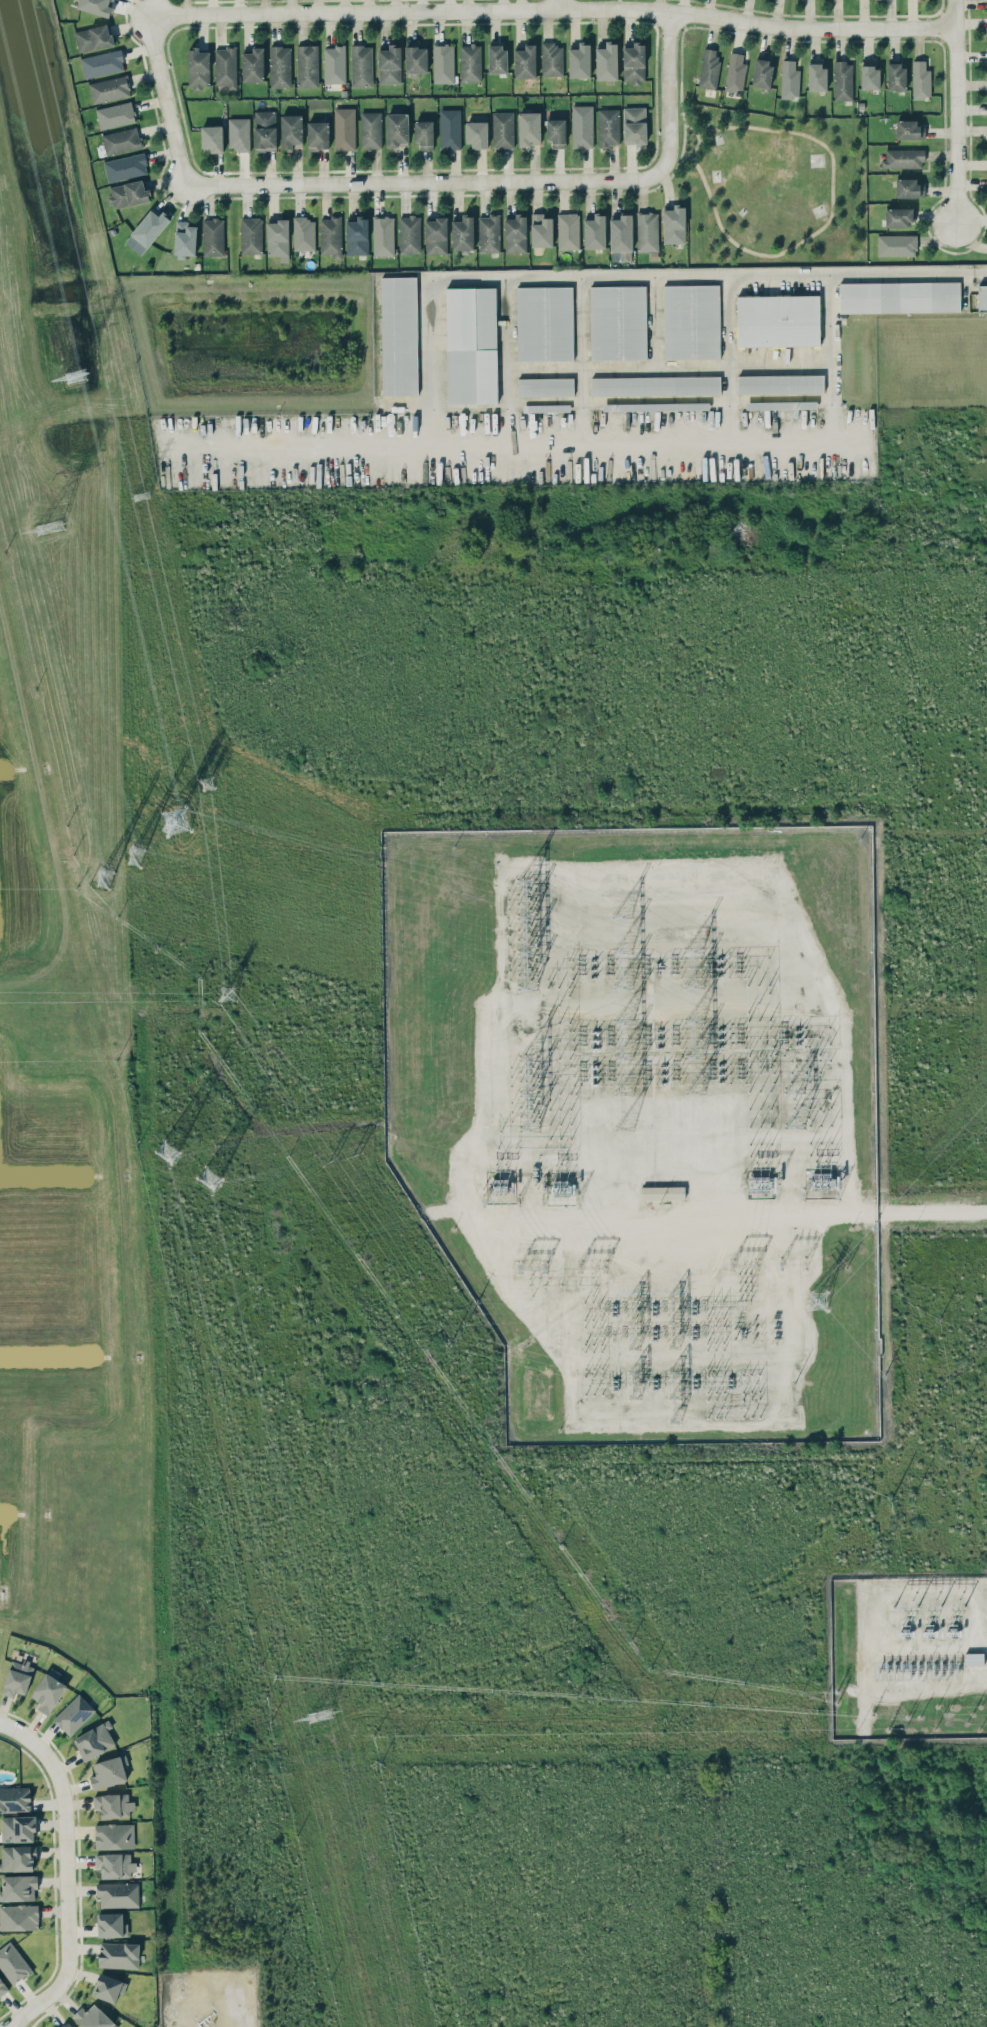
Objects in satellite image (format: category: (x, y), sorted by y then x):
road: (561, 5)
building: (96, 6)
road: (554, 11)
building: (93, 37)
building: (415, 58)
building: (496, 58)
building: (551, 59)
building: (579, 61)
building: (606, 61)
building: (470, 62)
building: (525, 62)
building: (633, 62)
building: (102, 63)
building: (443, 63)
building: (334, 64)
building: (389, 64)
building: (253, 65)
building: (307, 65)
building: (361, 65)
building: (225, 66)
building: (279, 66)
building: (198, 67)
building: (709, 69)
building: (735, 72)
building: (762, 72)
building: (869, 75)
building: (896, 75)
building: (817, 77)
building: (789, 79)
building: (921, 79)
building: (842, 80)
building: (109, 89)
road: (669, 90)
road: (682, 93)
road: (170, 99)
road: (958, 113)
building: (115, 114)
building: (634, 125)
building: (582, 126)
building: (608, 127)
building: (344, 128)
building: (450, 128)
building: (529, 128)
building: (370, 129)
building: (396, 129)
building: (503, 129)
building: (909, 129)
building: (265, 130)
building: (291, 131)
building: (556, 132)
building: (239, 133)
building: (476, 133)
building: (317, 135)
building: (424, 135)
building: (211, 138)
building: (121, 141)
road: (699, 142)
building: (903, 158)
building: (125, 166)
road: (427, 181)
road: (668, 187)
building: (909, 188)
building: (128, 193)
road: (830, 217)
building: (899, 217)
building: (674, 224)
building: (541, 230)
building: (568, 230)
building: (146, 231)
building: (594, 231)
building: (647, 231)
building: (303, 233)
building: (462, 233)
building: (488, 233)
building: (409, 234)
building: (515, 234)
building: (251, 235)
building: (383, 235)
building: (436, 235)
building: (330, 236)
building: (357, 236)
building: (213, 237)
building: (277, 237)
building: (621, 238)
building: (185, 239)
building: (897, 244)
road: (905, 273)
building: (900, 296)
building: (982, 297)
building: (779, 319)
building: (691, 321)
building: (618, 322)
building: (544, 323)
building: (399, 335)
building: (471, 345)
road: (722, 355)
road: (508, 357)
power tower: (64, 371)
building: (780, 383)
building: (655, 385)
building: (545, 386)
building: (660, 406)
road: (420, 437)
power tower: (136, 495)
power tower: (36, 523)
power tower: (208, 782)
power tower: (173, 823)
power tower: (132, 853)
power tower: (94, 871)
power tower: (227, 994)
power substation: (645, 1118)
power tower: (167, 1151)
power tower: (356, 1152)
power tower: (332, 1159)
power tower: (209, 1179)
building: (662, 1192)
road: (788, 1213)
power tower: (821, 1300)
power tower: (473, 1313)
power tower: (454, 1338)
power substation: (908, 1657)
building: (973, 1658)
building: (17, 1677)
building: (48, 1690)
building: (73, 1714)
power tower: (317, 1714)
building: (94, 1740)
building: (107, 1772)
building: (15, 1798)
building: (113, 1804)
building: (17, 1828)
road: (66, 1834)
building: (114, 1835)
building: (17, 1857)
building: (114, 1864)
building: (18, 1887)
building: (117, 1894)
building: (19, 1916)
building: (111, 1924)
building: (118, 1954)
building: (13, 1962)
building: (2, 1987)
building: (109, 1987)
road: (38, 2003)
building: (93, 2017)
building: (67, 2024)

